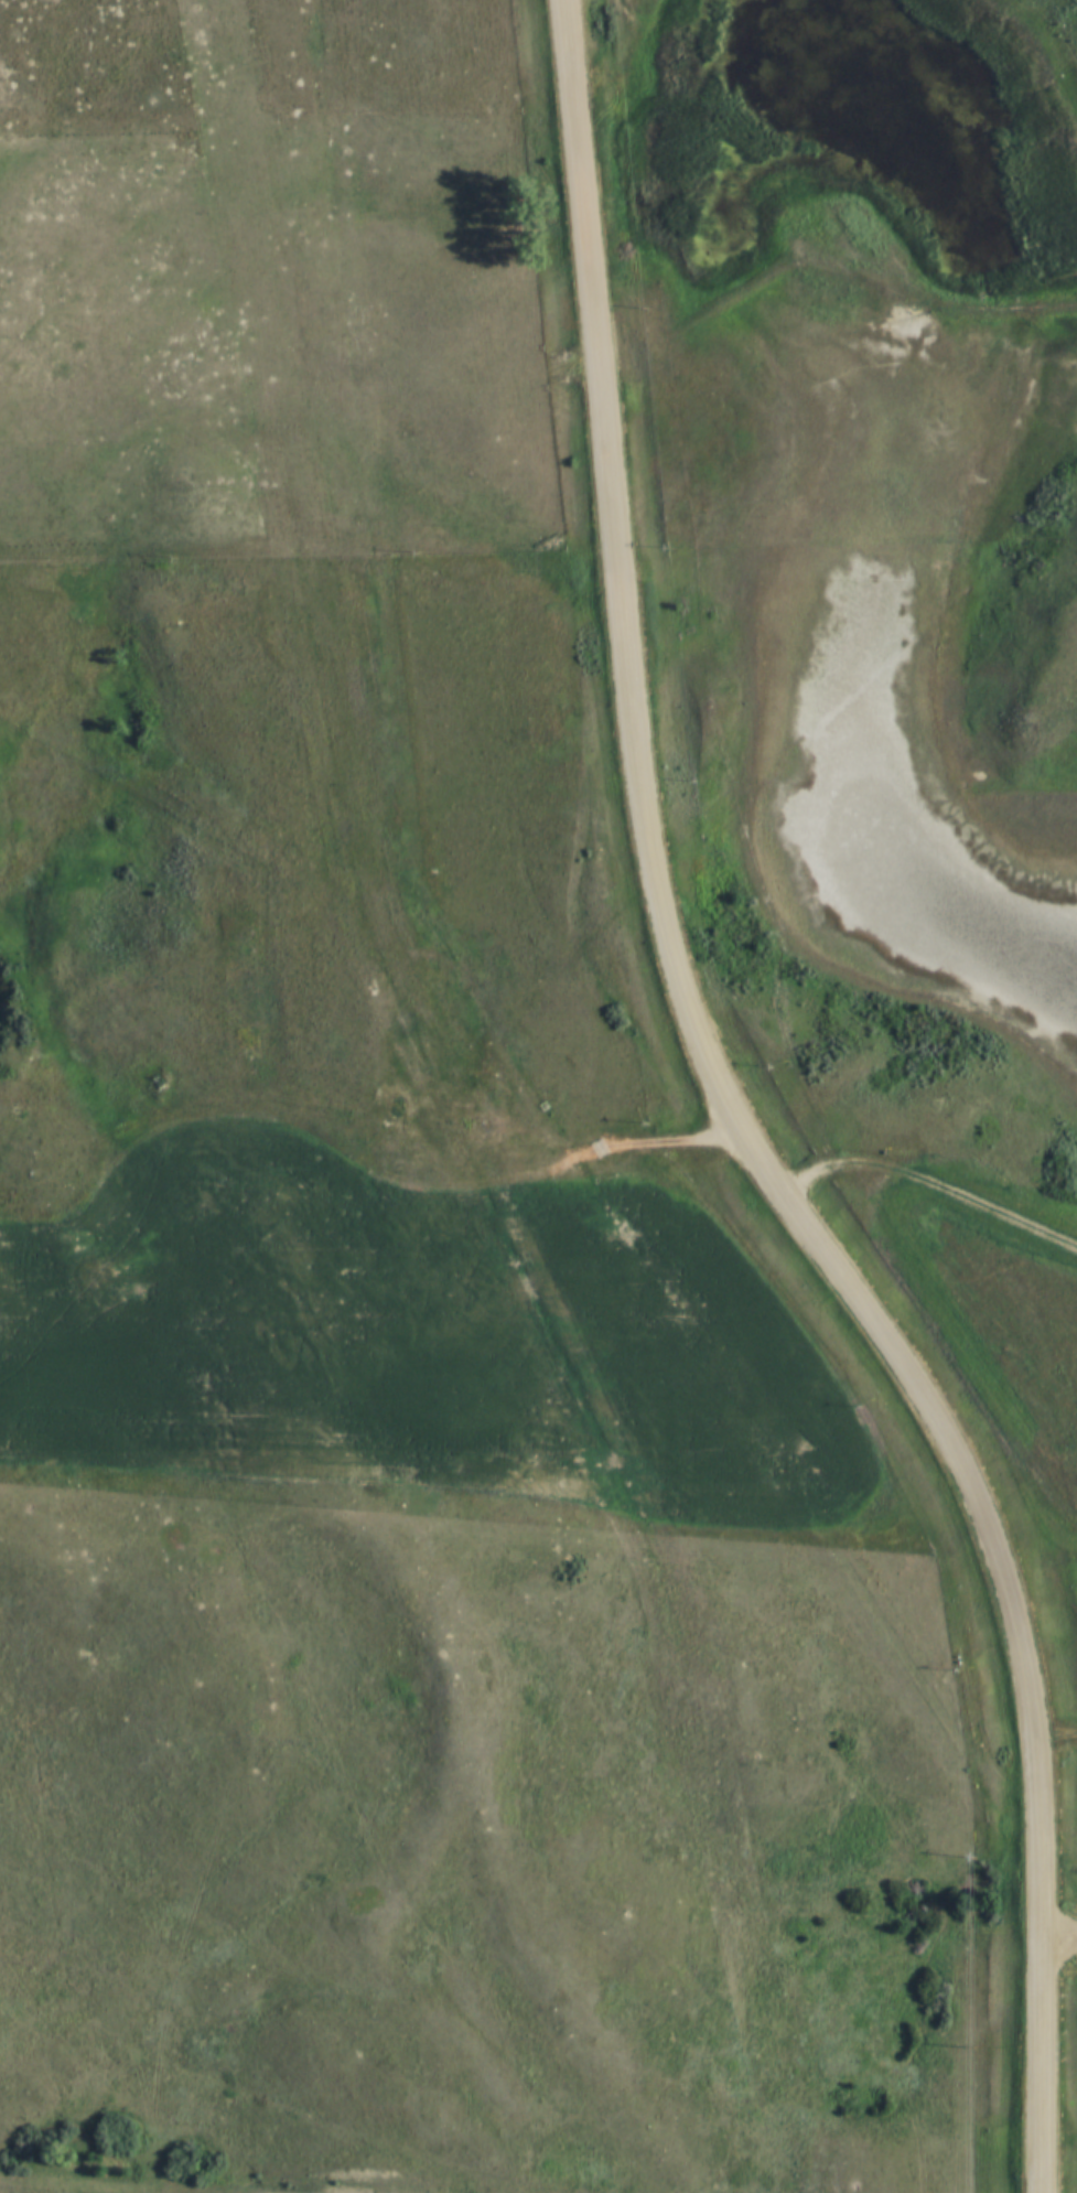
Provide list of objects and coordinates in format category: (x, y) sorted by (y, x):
road: (732, 1127)
road: (623, 1168)
road: (1054, 1743)
road: (100, 2183)

